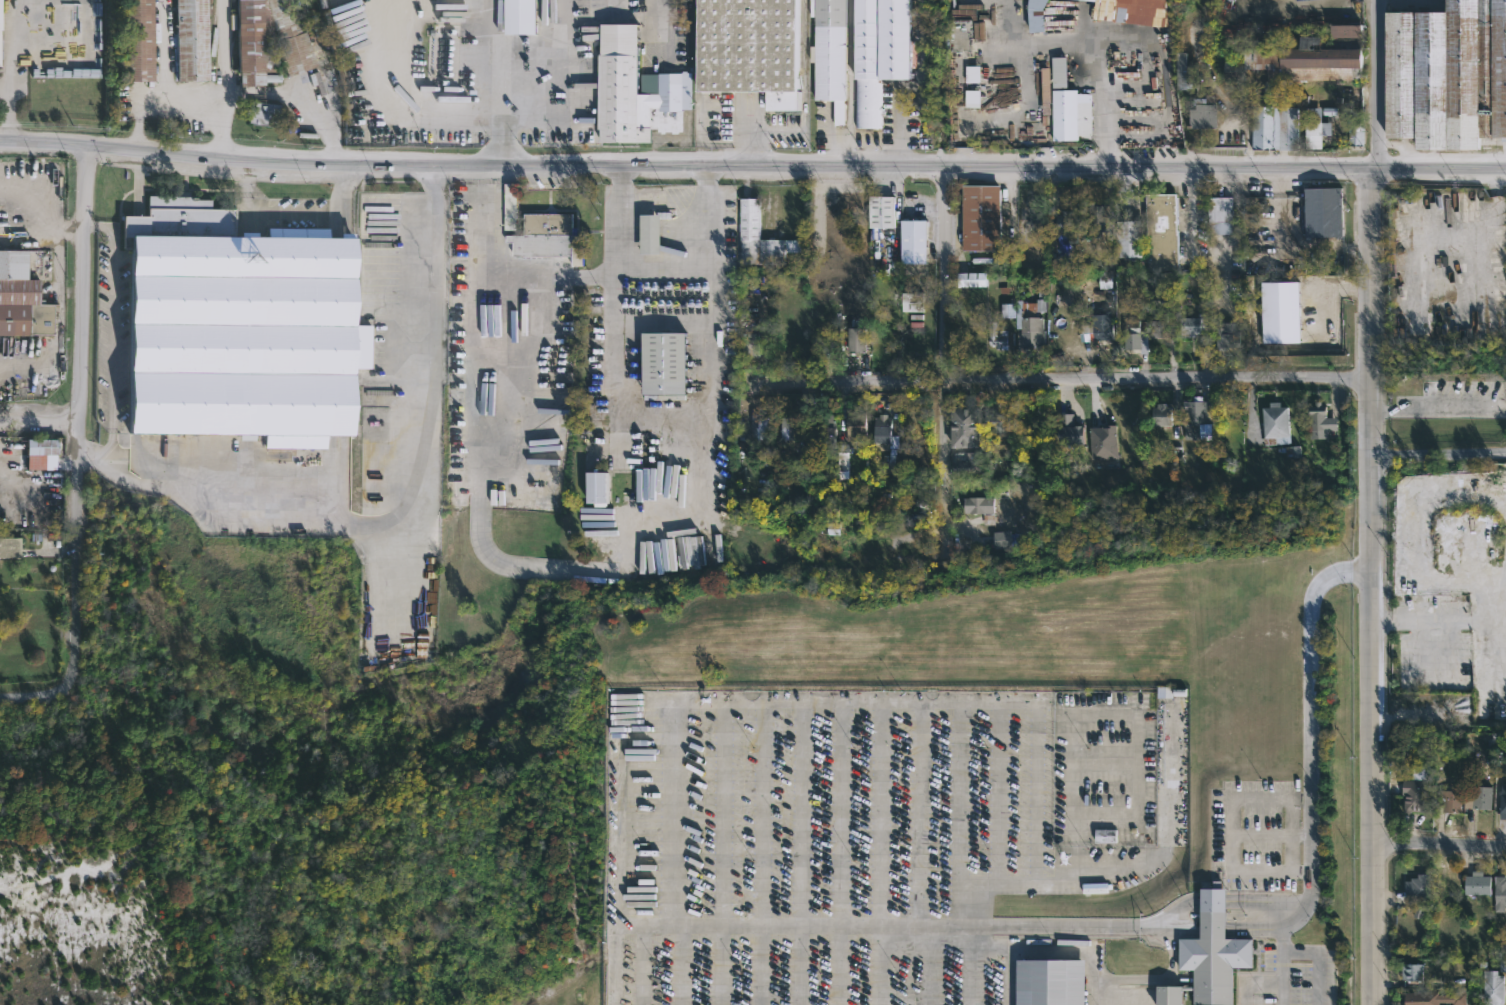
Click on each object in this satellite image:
road: (617, 6)
building: (1130, 11)
building: (1033, 15)
building: (2, 34)
building: (140, 40)
building: (196, 40)
building: (274, 40)
building: (746, 49)
road: (163, 51)
road: (226, 52)
building: (875, 52)
building: (827, 53)
building: (1308, 56)
building: (446, 57)
road: (10, 71)
building: (1057, 72)
building: (1184, 72)
road: (503, 73)
building: (1446, 74)
building: (967, 86)
building: (1012, 88)
building: (637, 90)
building: (1044, 90)
road: (304, 99)
road: (184, 103)
building: (261, 112)
building: (1202, 112)
building: (1069, 114)
road: (903, 126)
building: (1274, 128)
building: (1355, 131)
building: (1311, 134)
road: (752, 165)
building: (512, 209)
building: (878, 211)
building: (1322, 212)
building: (1219, 215)
building: (978, 217)
building: (1099, 219)
building: (1065, 223)
building: (660, 233)
building: (548, 234)
building: (1150, 234)
building: (754, 237)
building: (910, 241)
road: (712, 244)
road: (1289, 245)
railway: (347, 258)
building: (969, 279)
road: (433, 286)
road: (614, 293)
building: (22, 296)
building: (910, 302)
building: (1276, 313)
building: (1193, 325)
building: (1102, 326)
building: (1158, 326)
building: (1027, 327)
building: (242, 328)
building: (996, 336)
building: (1133, 336)
building: (1225, 336)
building: (854, 339)
building: (752, 346)
road: (946, 360)
building: (664, 363)
road: (1126, 382)
road: (615, 404)
road: (1439, 408)
road: (82, 412)
building: (1160, 415)
building: (1315, 416)
building: (1195, 417)
road: (41, 422)
building: (1274, 424)
building: (994, 425)
building: (854, 426)
building: (961, 427)
building: (755, 430)
building: (1067, 431)
building: (880, 432)
building: (826, 436)
building: (787, 438)
building: (1101, 443)
building: (44, 453)
road: (1440, 455)
building: (964, 462)
building: (603, 488)
road: (1374, 502)
building: (979, 508)
building: (1009, 542)
building: (11, 547)
road: (509, 562)
road: (37, 685)
building: (1165, 693)
road: (966, 707)
road: (1098, 758)
road: (1311, 770)
road: (1037, 786)
road: (1061, 794)
road: (993, 795)
building: (1414, 796)
building: (1479, 799)
building: (1450, 801)
building: (1502, 805)
road: (912, 816)
road: (952, 816)
road: (1229, 832)
building: (1103, 837)
road: (1440, 846)
road: (714, 855)
road: (756, 855)
road: (794, 855)
road: (832, 855)
road: (873, 855)
building: (1476, 884)
building: (1416, 887)
building: (1499, 892)
road: (1223, 901)
road: (850, 925)
road: (1216, 927)
road: (1072, 951)
building: (1216, 957)
road: (1321, 963)
road: (674, 965)
road: (920, 965)
road: (963, 965)
road: (1000, 965)
building: (1411, 970)
building: (1048, 981)
road: (1254, 982)
building: (1492, 987)
building: (1434, 997)

